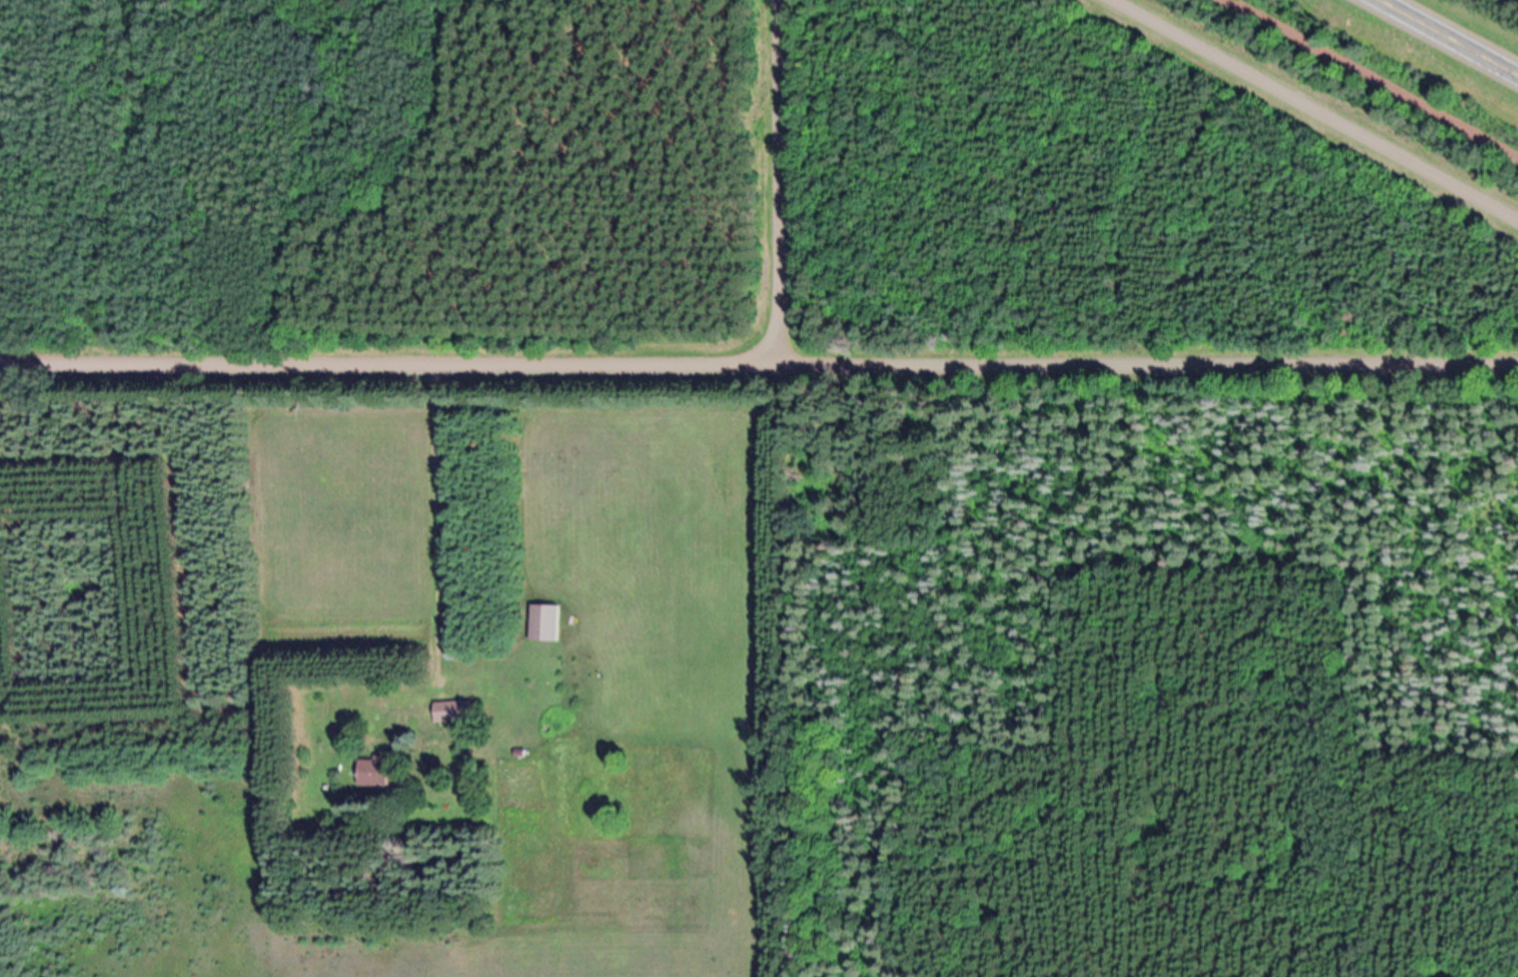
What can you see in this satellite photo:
road: (1448, 37)
road: (1372, 80)
road: (1317, 110)
road: (777, 181)
road: (758, 362)
building: (549, 624)
building: (458, 712)
building: (379, 772)

